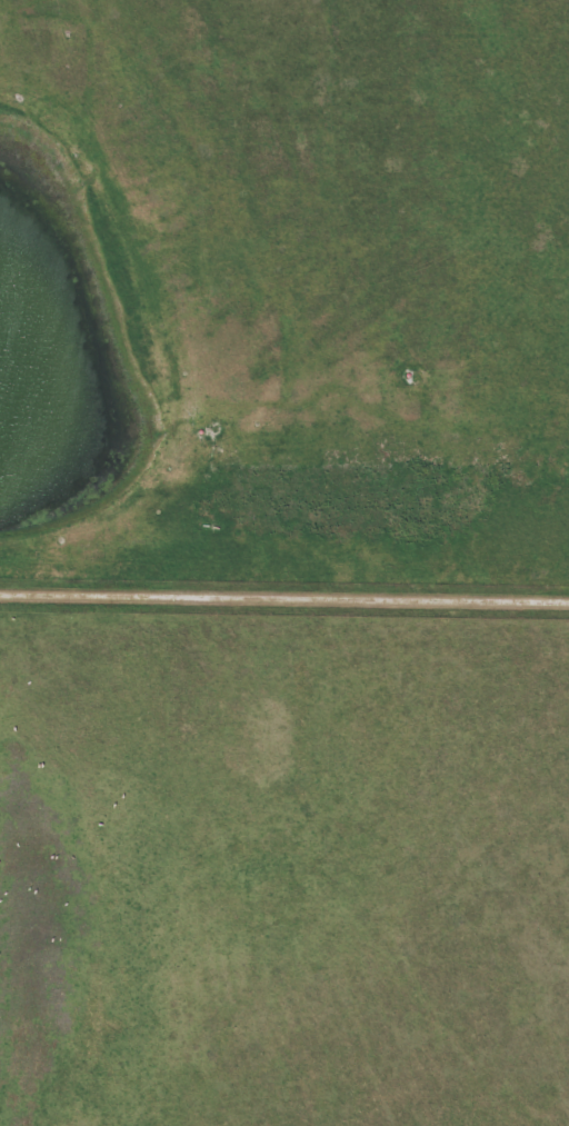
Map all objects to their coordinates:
road: (284, 597)

